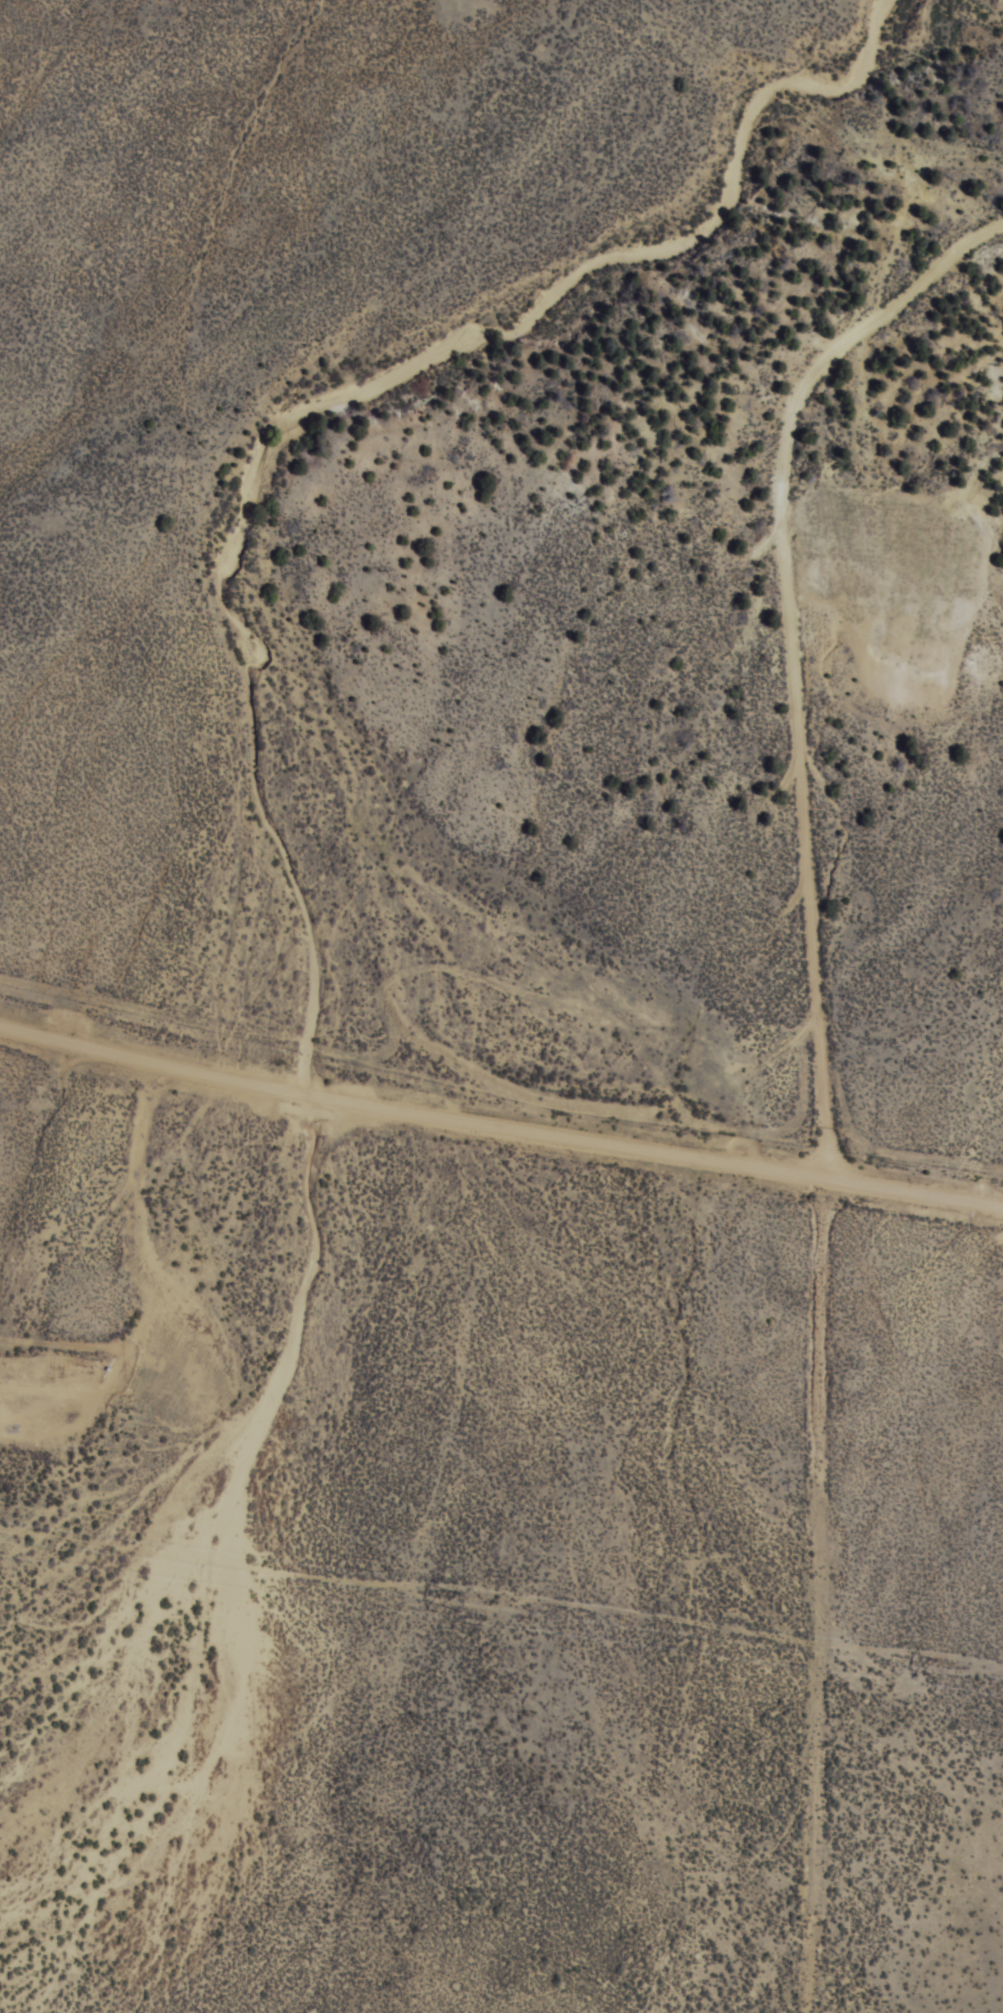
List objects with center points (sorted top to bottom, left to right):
road: (788, 664)
road: (500, 1123)
road: (85, 1359)
power tower: (466, 1603)
power tower: (945, 1668)

